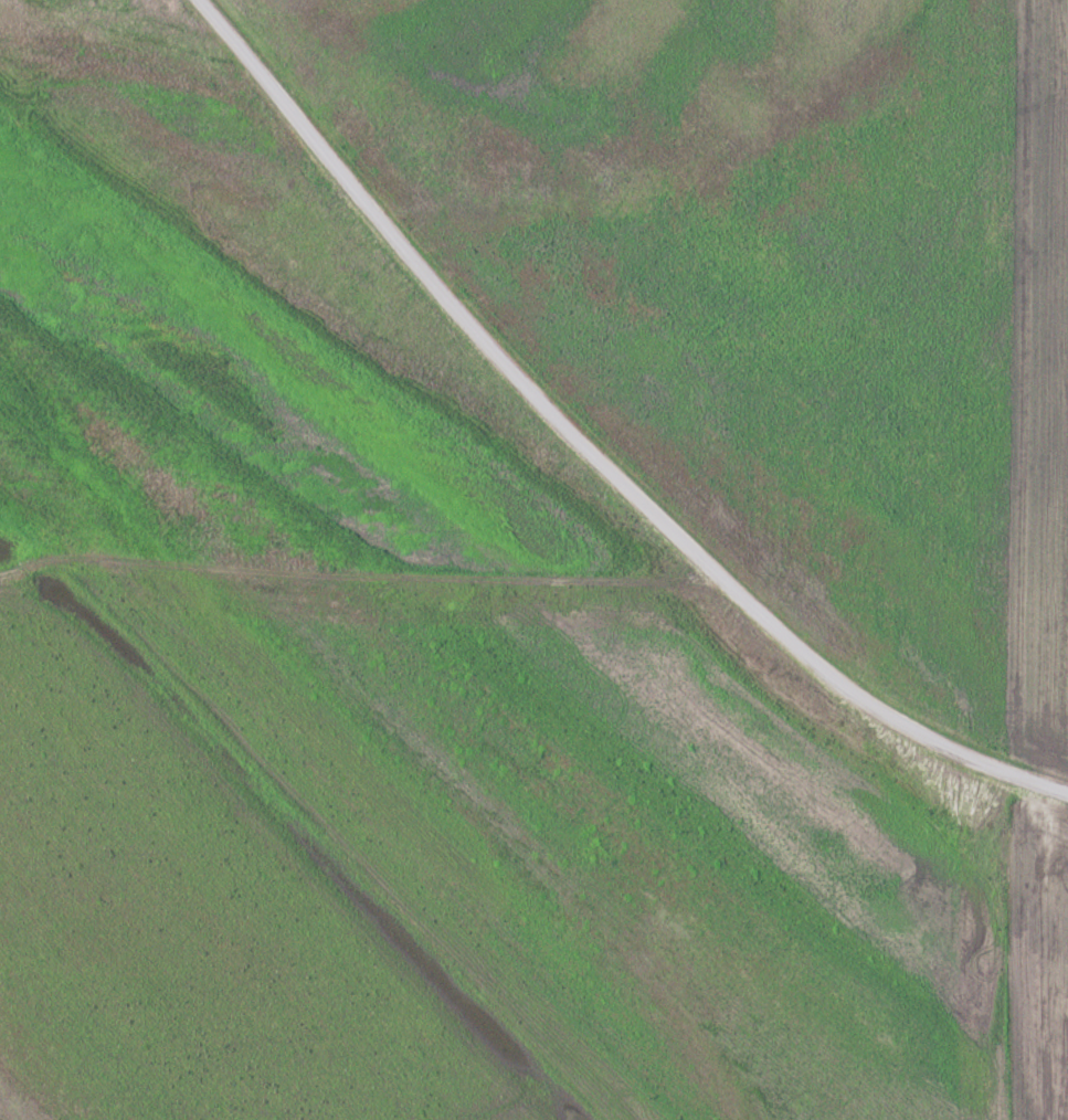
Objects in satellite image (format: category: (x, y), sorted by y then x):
road: (593, 426)

